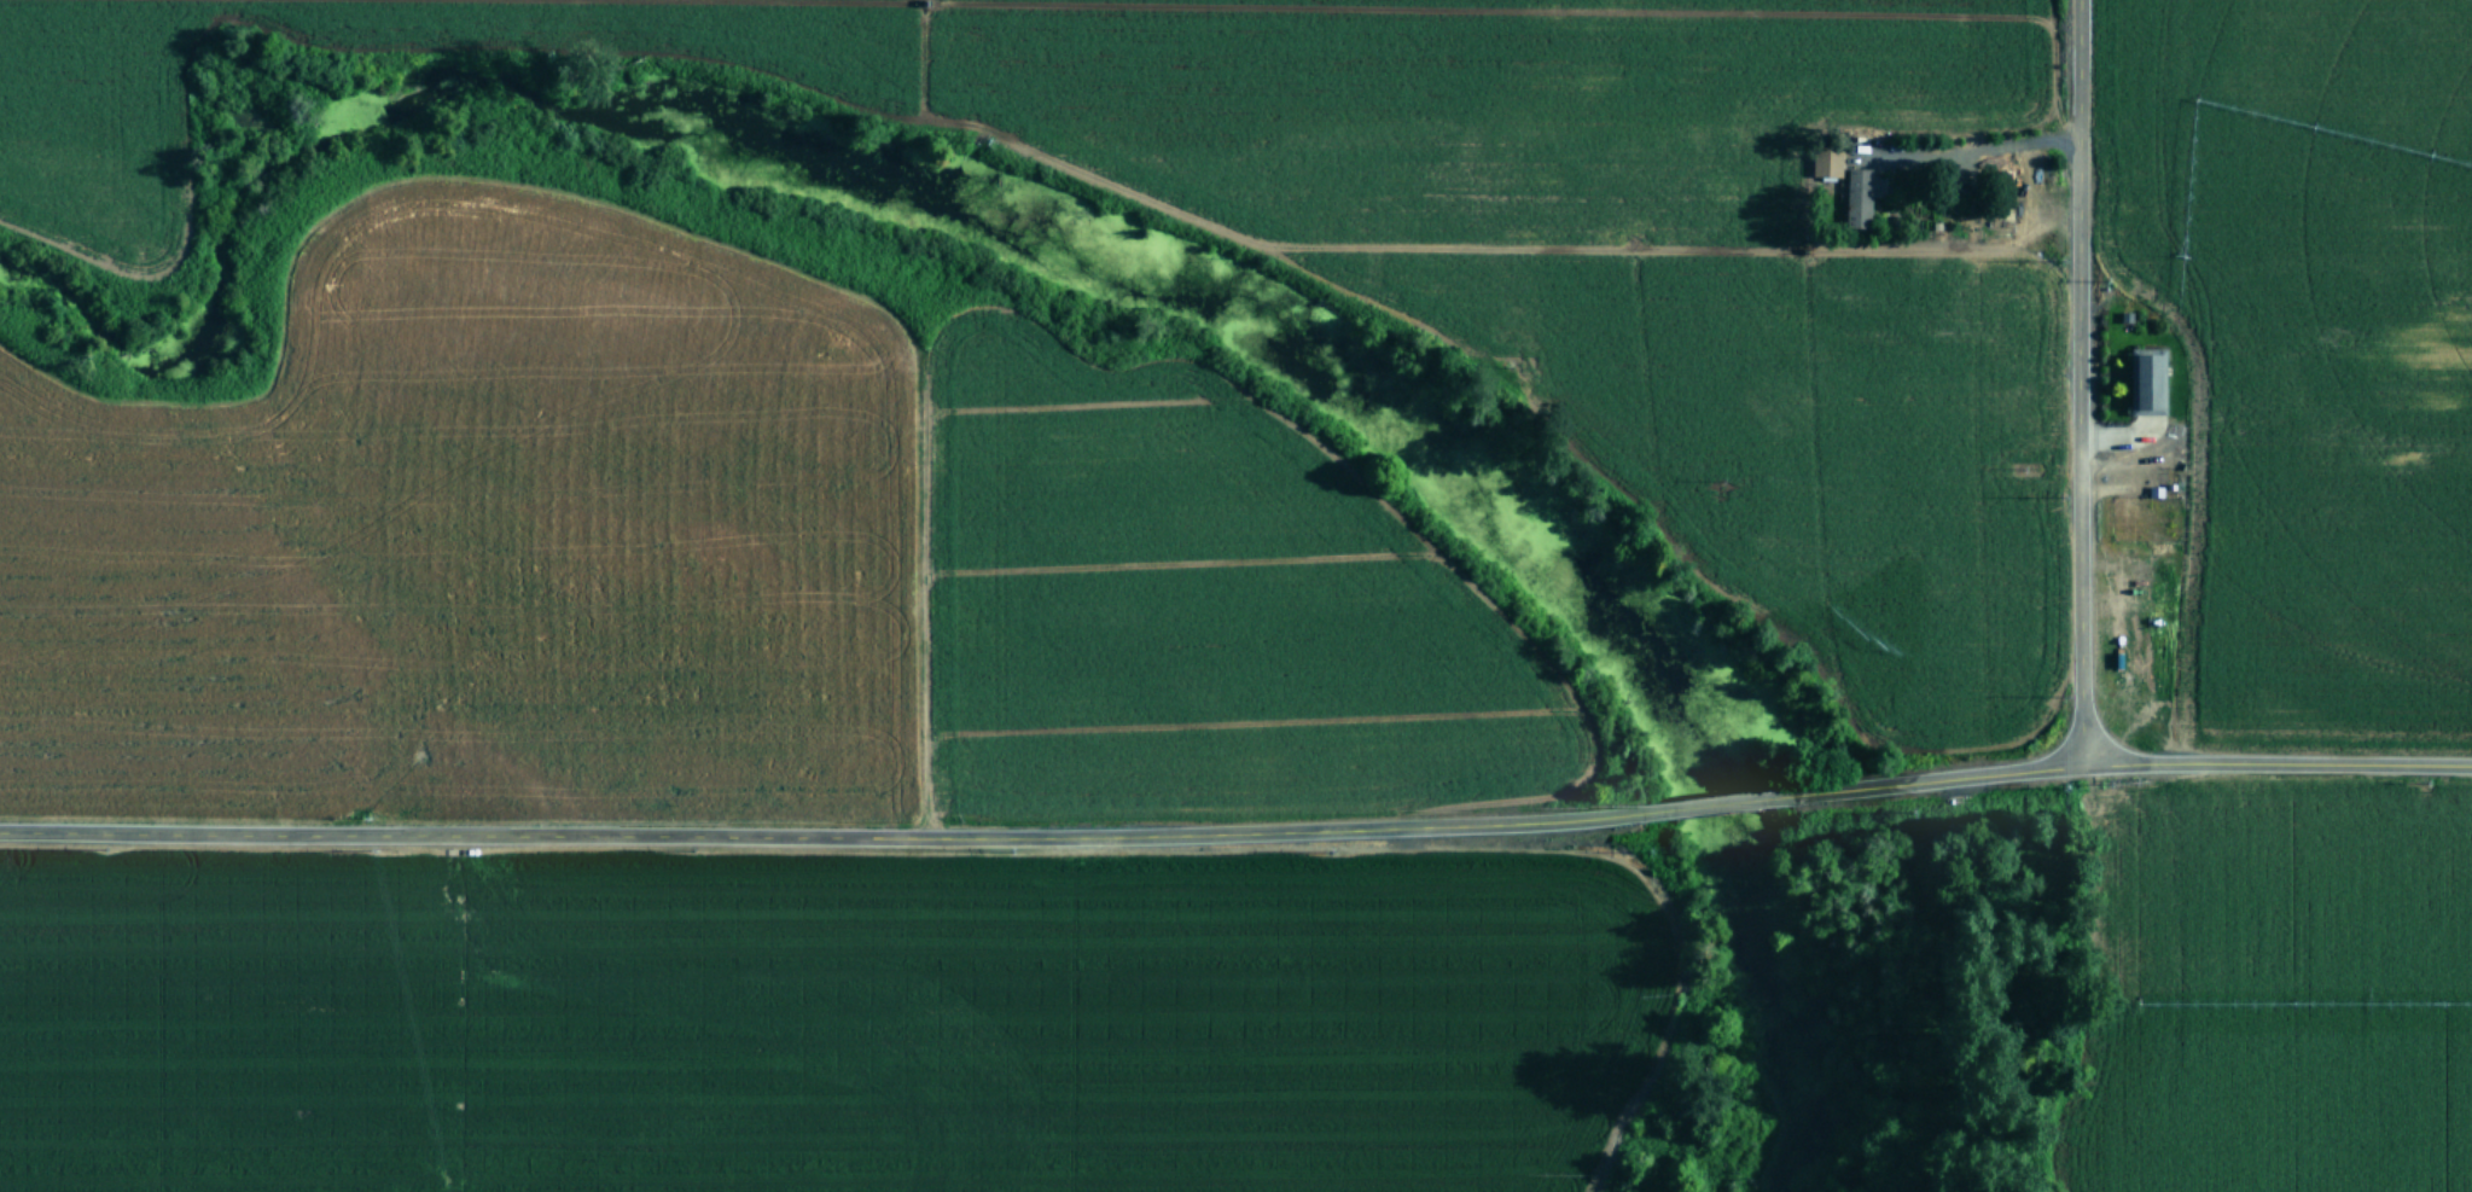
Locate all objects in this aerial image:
building: (1826, 162)
building: (1861, 196)
road: (2078, 382)
building: (2146, 383)
crop: (1801, 386)
road: (1658, 508)
crop: (762, 754)
road: (1237, 831)

